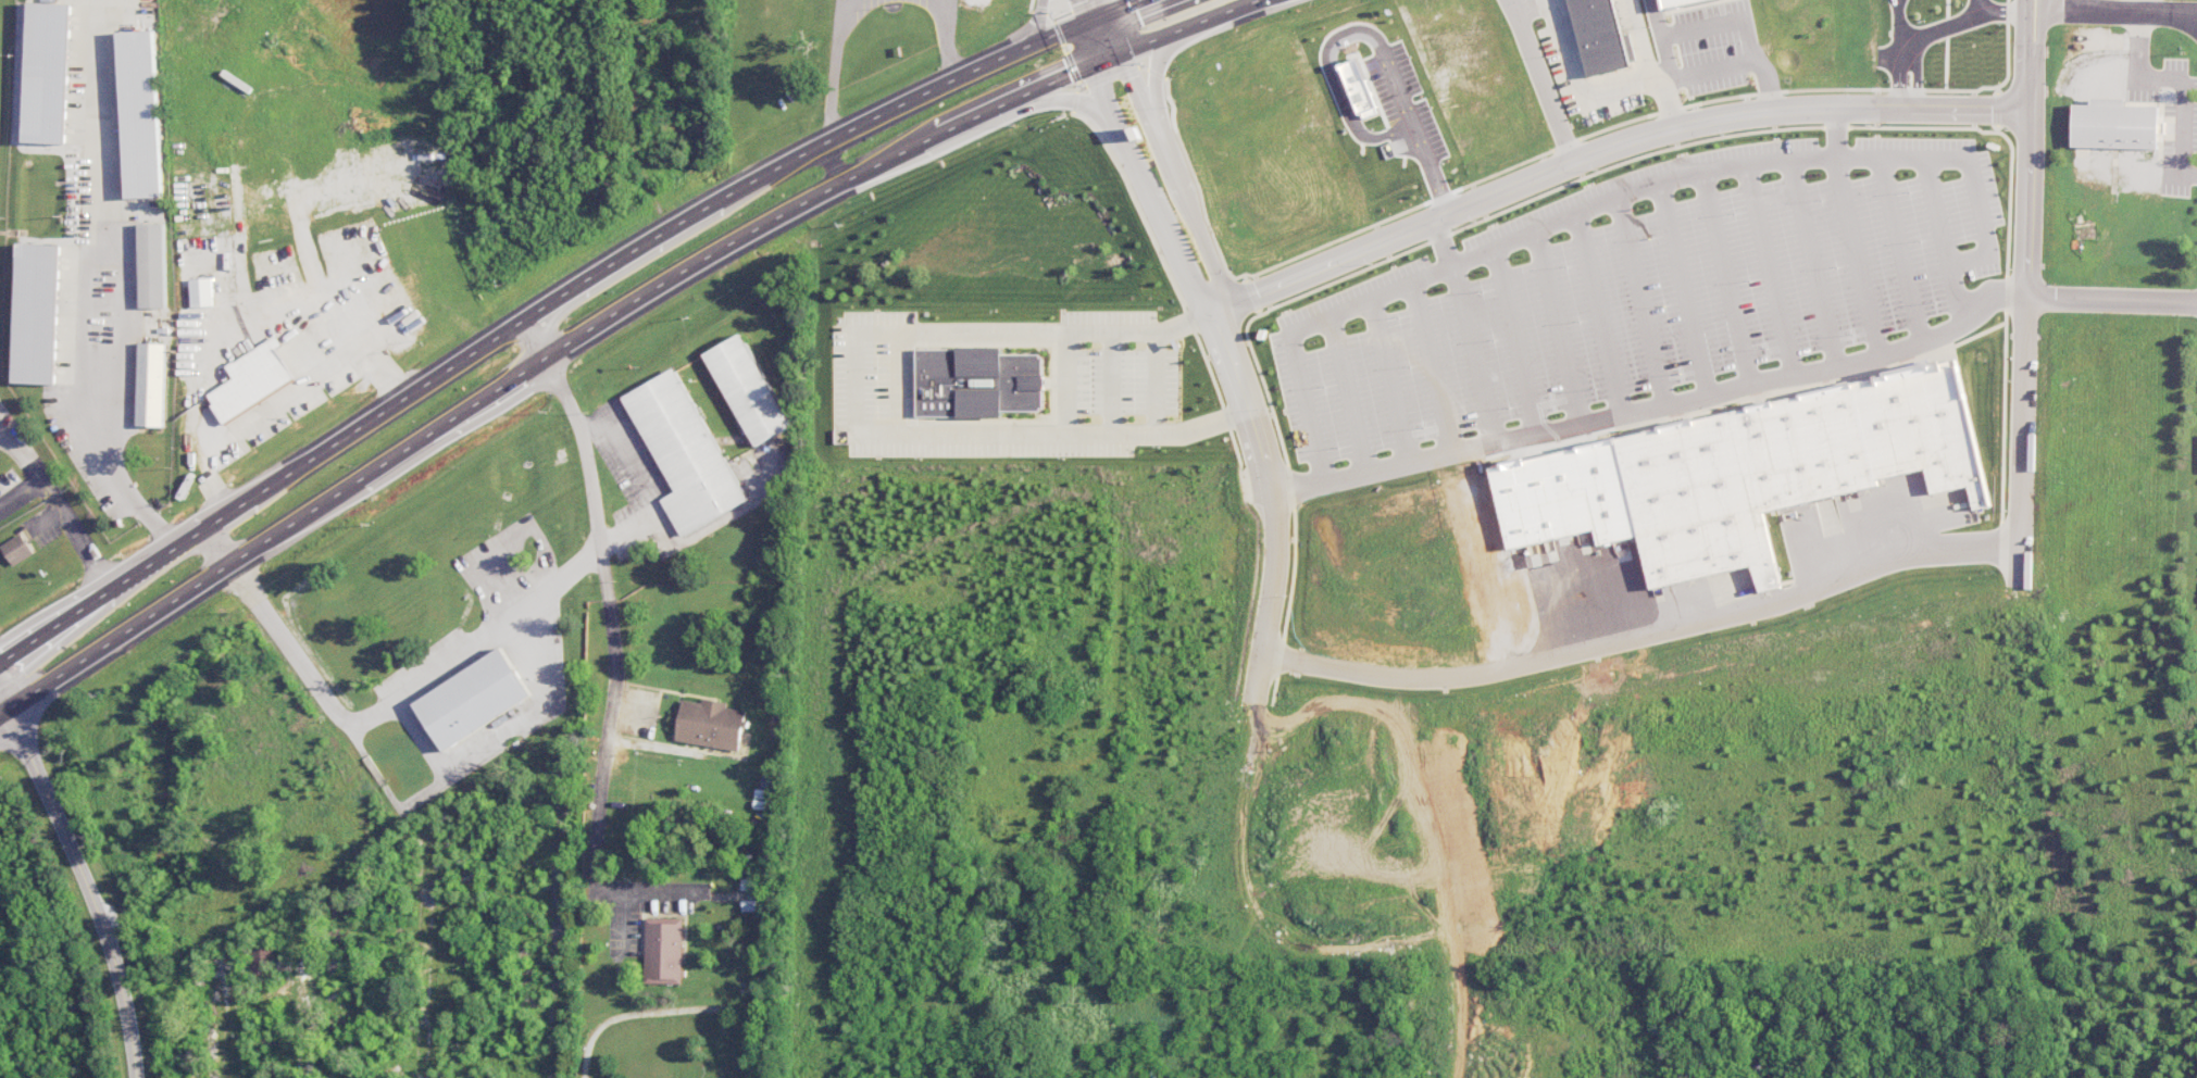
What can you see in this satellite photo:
building: (1675, 2)
road: (1094, 5)
road: (1081, 8)
road: (2119, 10)
road: (1218, 15)
road: (1089, 17)
road: (1728, 18)
road: (1959, 21)
traffic signals: (1091, 24)
building: (1601, 36)
road: (2023, 36)
road: (2040, 37)
road: (945, 38)
road: (1098, 43)
road: (1664, 57)
traffic signals: (1106, 64)
road: (832, 67)
road: (970, 70)
road: (1703, 70)
building: (47, 73)
road: (2182, 77)
road: (1915, 79)
road: (1156, 80)
road: (1898, 80)
road: (1540, 82)
road: (1140, 91)
road: (1580, 91)
road: (2030, 91)
road: (1037, 92)
building: (139, 114)
road: (1008, 114)
building: (2113, 125)
road: (1831, 131)
road: (1610, 149)
road: (834, 163)
road: (1632, 189)
road: (1148, 193)
road: (1196, 223)
road: (1438, 243)
building: (152, 265)
building: (202, 292)
road: (2111, 297)
building: (37, 313)
road: (563, 346)
road: (2024, 346)
road: (112, 351)
road: (500, 359)
building: (252, 380)
road: (1154, 380)
building: (977, 383)
building: (151, 385)
building: (749, 389)
road: (390, 402)
road: (1653, 402)
road: (896, 403)
road: (3, 433)
road: (3, 437)
building: (685, 452)
building: (1785, 467)
road: (638, 482)
road: (21, 499)
road: (1273, 502)
road: (58, 514)
building: (16, 549)
road: (1645, 629)
road: (121, 635)
road: (615, 661)
building: (473, 699)
road: (3, 703)
road: (379, 709)
building: (710, 724)
road: (88, 888)
road: (557, 928)
building: (662, 950)
building: (261, 962)
road: (303, 1025)

